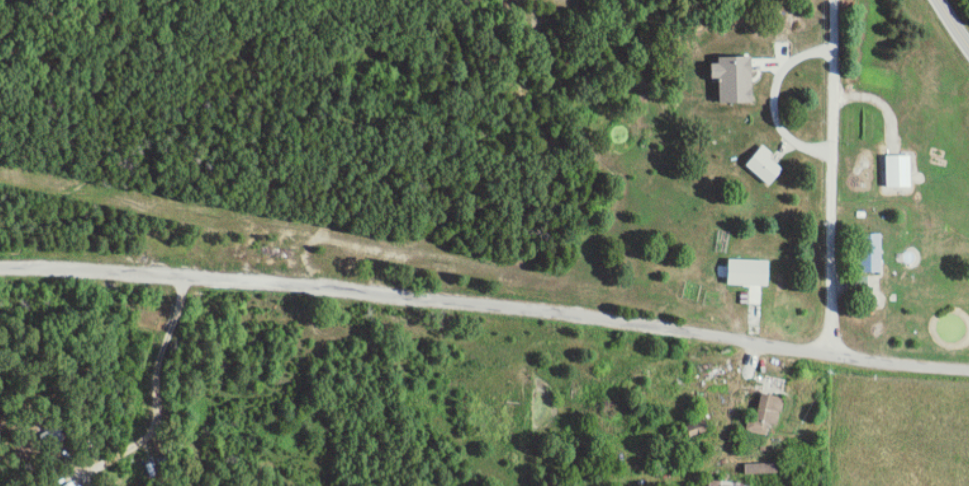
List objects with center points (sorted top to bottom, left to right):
road: (956, 19)
building: (732, 77)
road: (782, 96)
building: (763, 164)
building: (896, 170)
road: (838, 174)
building: (870, 252)
building: (748, 276)
road: (485, 304)
road: (168, 393)
building: (765, 413)
building: (759, 467)
building: (723, 483)
building: (70, 484)

